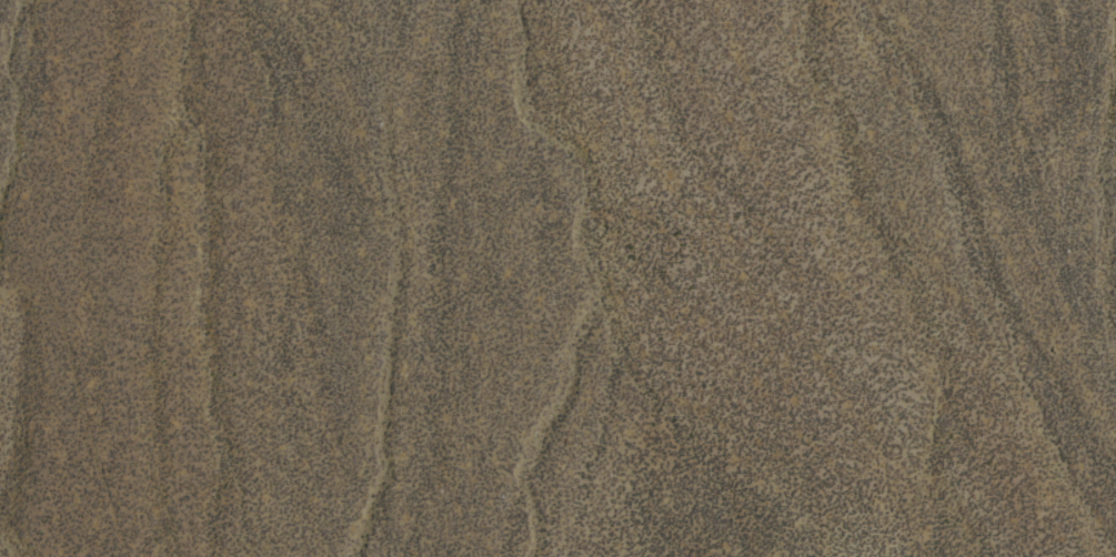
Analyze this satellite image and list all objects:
road: (83, 411)

